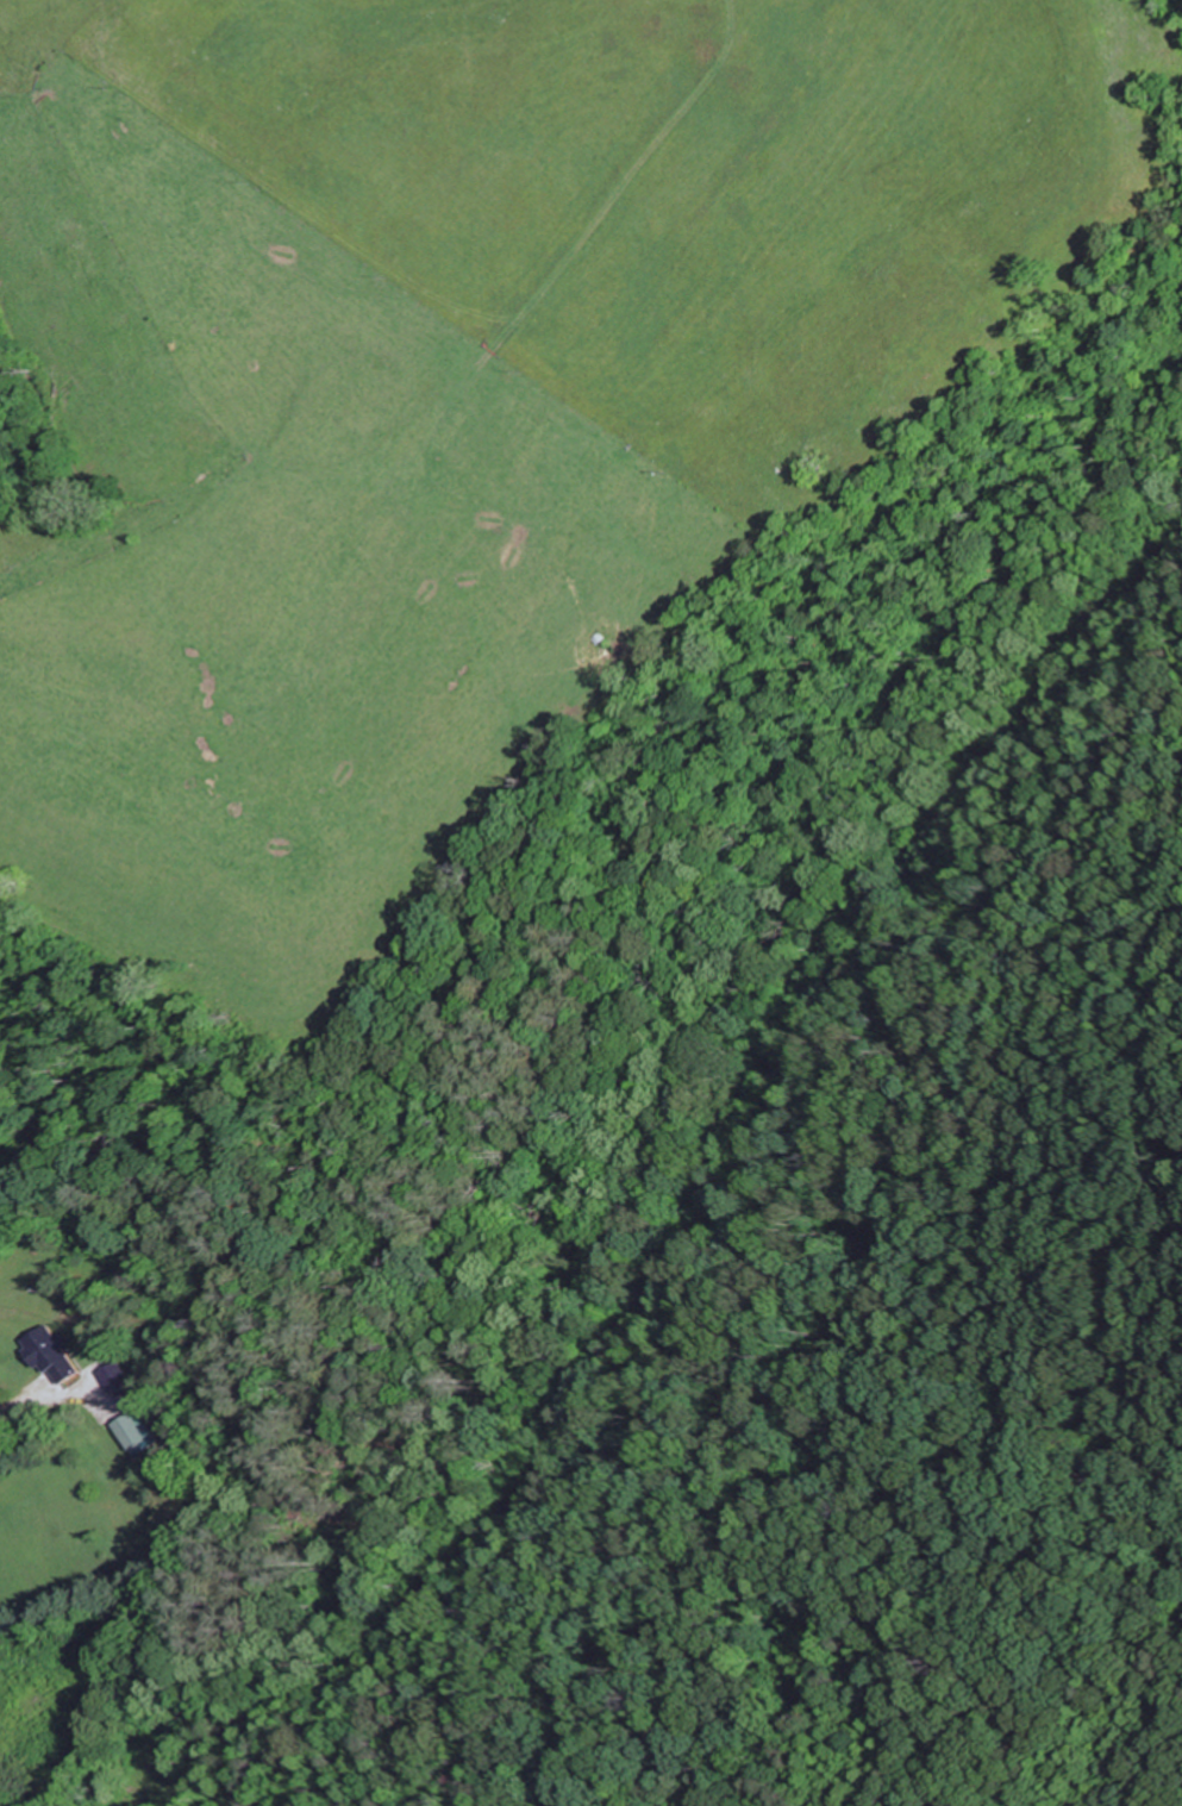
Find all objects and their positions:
road: (19, 583)
road: (757, 1324)
building: (49, 1356)
building: (111, 1376)
building: (130, 1432)

